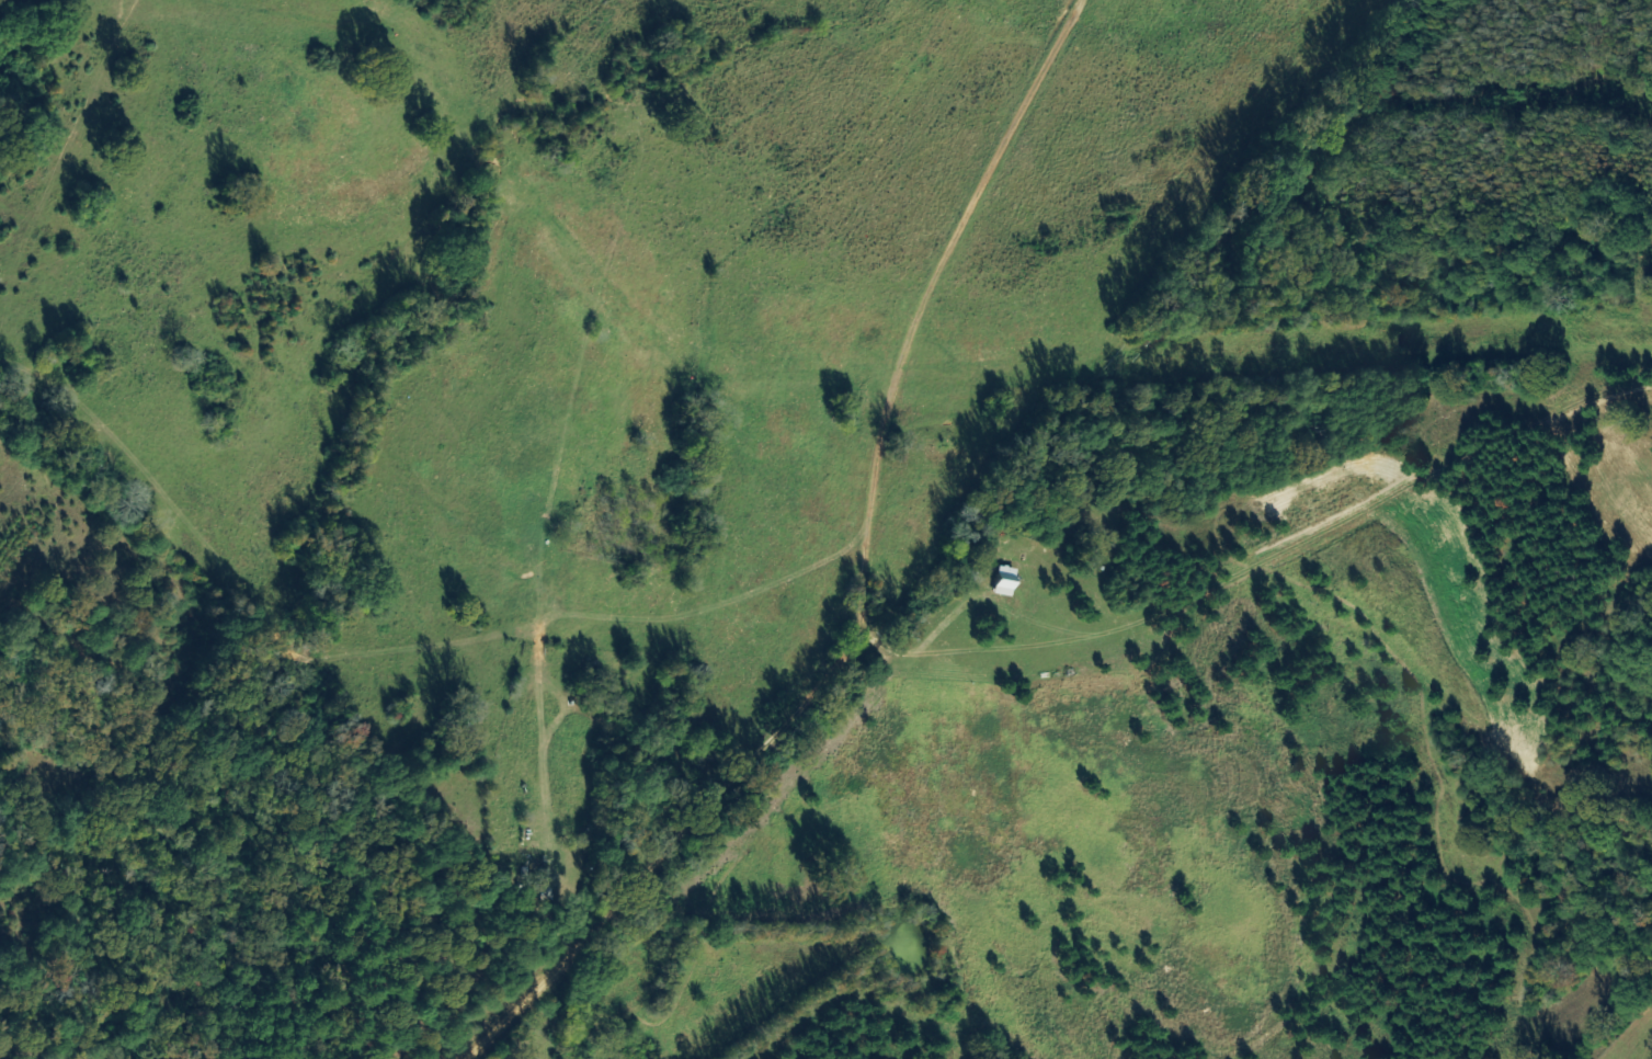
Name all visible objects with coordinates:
road: (536, 961)

